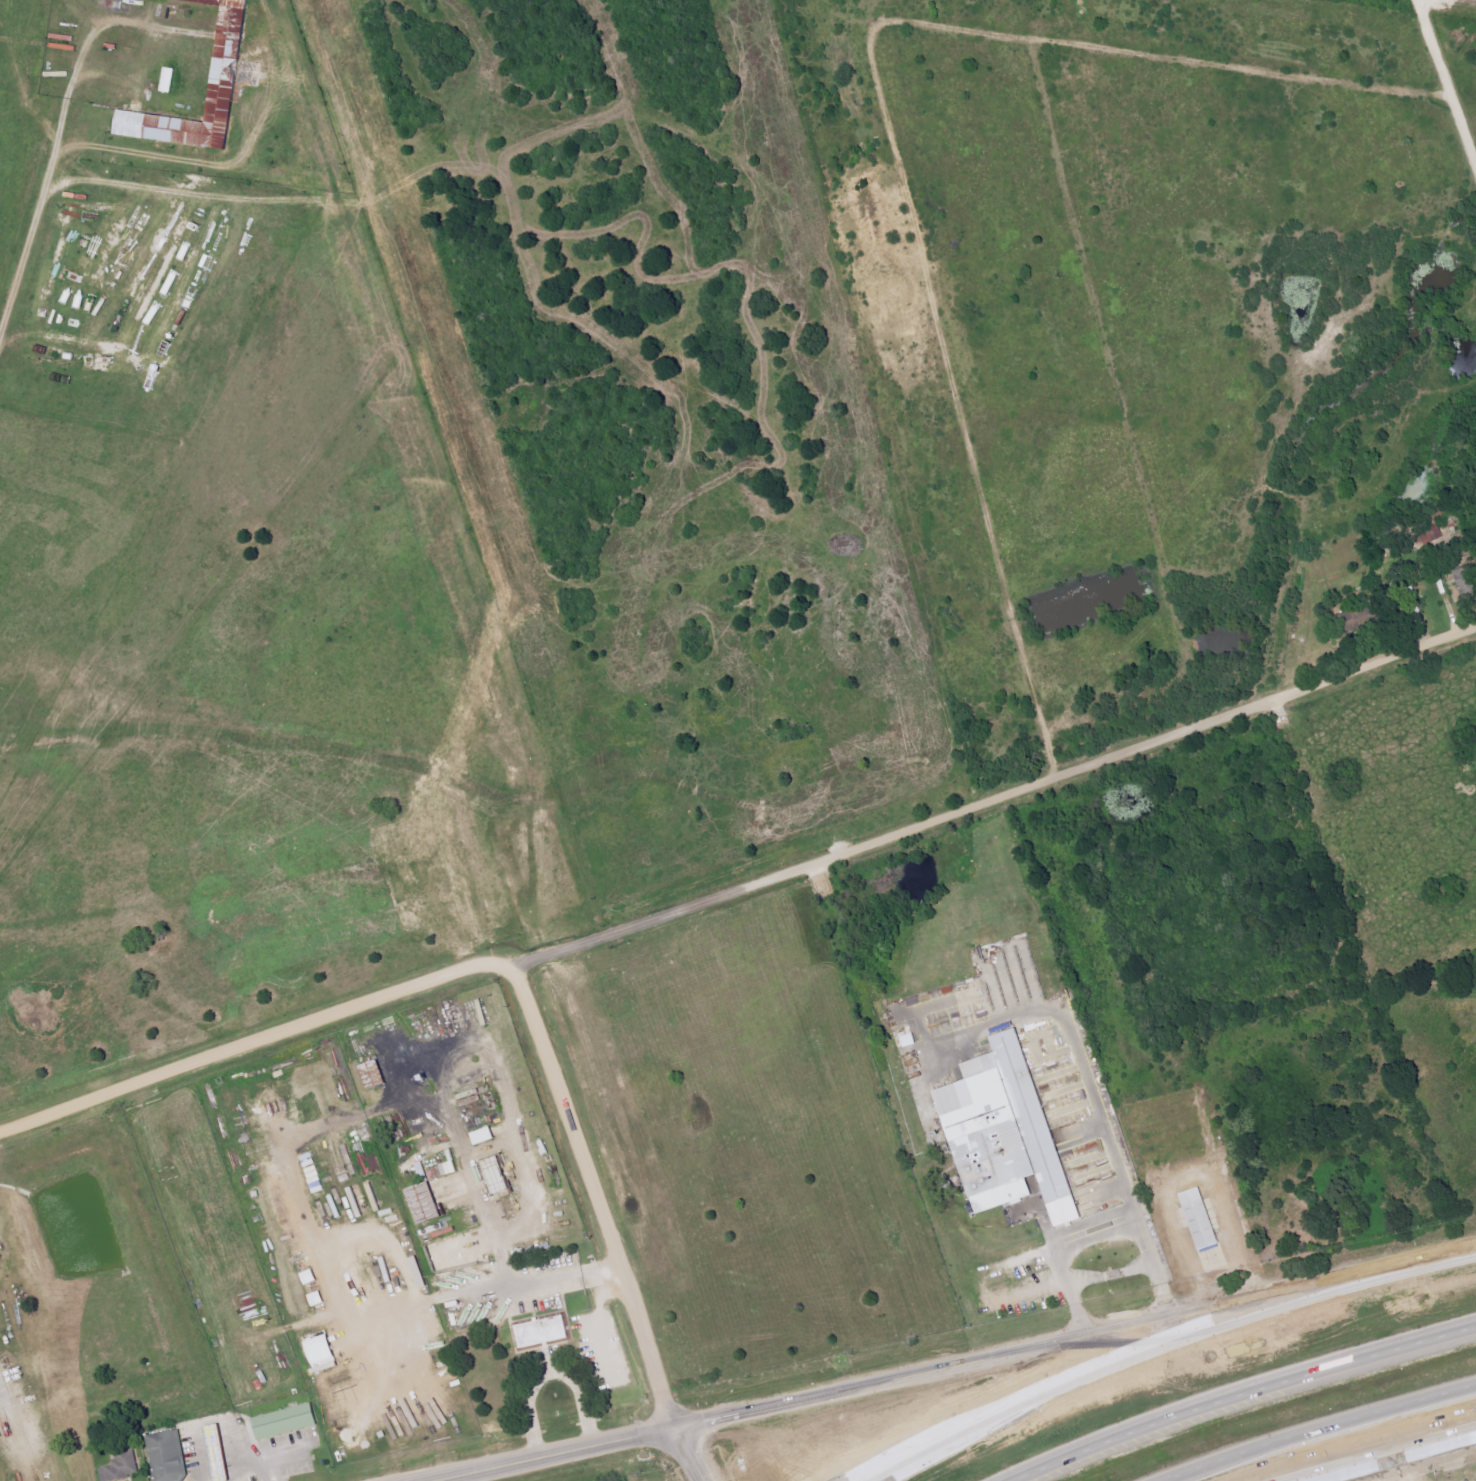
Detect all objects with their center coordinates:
building: (227, 57)
building: (167, 80)
road: (1443, 89)
road: (27, 242)
building: (1461, 579)
road: (740, 886)
building: (909, 1041)
building: (988, 1066)
building: (373, 1074)
road: (1093, 1099)
building: (1042, 1127)
building: (993, 1133)
building: (483, 1135)
building: (449, 1168)
building: (491, 1172)
road: (597, 1191)
building: (1008, 1196)
building: (423, 1203)
building: (1203, 1218)
road: (1119, 1233)
road: (545, 1277)
road: (1327, 1287)
road: (597, 1311)
building: (538, 1336)
road: (928, 1368)
road: (550, 1375)
road: (1240, 1393)
road: (1022, 1403)
building: (280, 1419)
road: (1315, 1428)
road: (1318, 1445)
building: (216, 1451)
road: (556, 1452)
road: (708, 1452)
building: (168, 1457)
road: (199, 1457)
road: (1401, 1459)
road: (274, 1461)
building: (121, 1466)
road: (1393, 1471)

